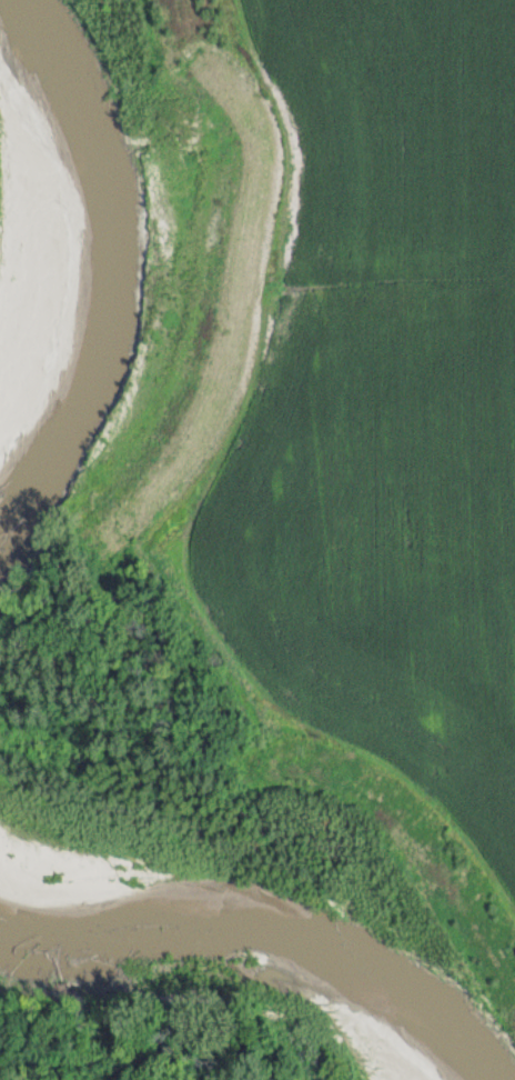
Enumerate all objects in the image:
river: (62, 141)
river: (228, 916)

